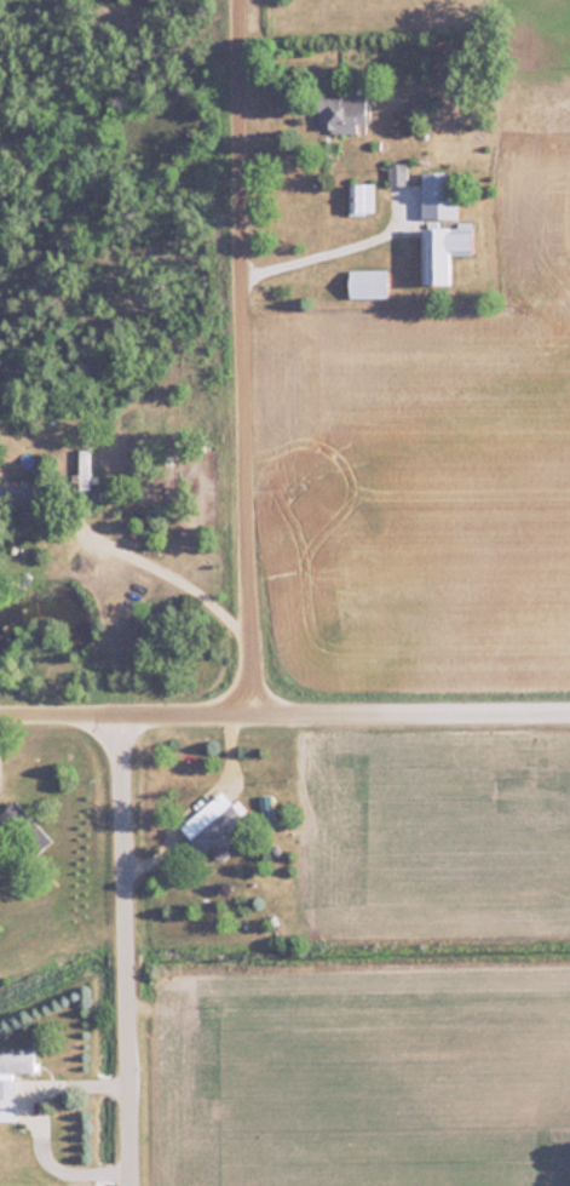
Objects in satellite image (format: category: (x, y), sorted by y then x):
road: (122, 23)
building: (341, 113)
building: (397, 173)
building: (438, 196)
building: (362, 199)
building: (443, 253)
road: (249, 356)
building: (84, 466)
building: (19, 493)
road: (174, 563)
road: (284, 712)
building: (213, 820)
road: (126, 949)
building: (12, 1073)

